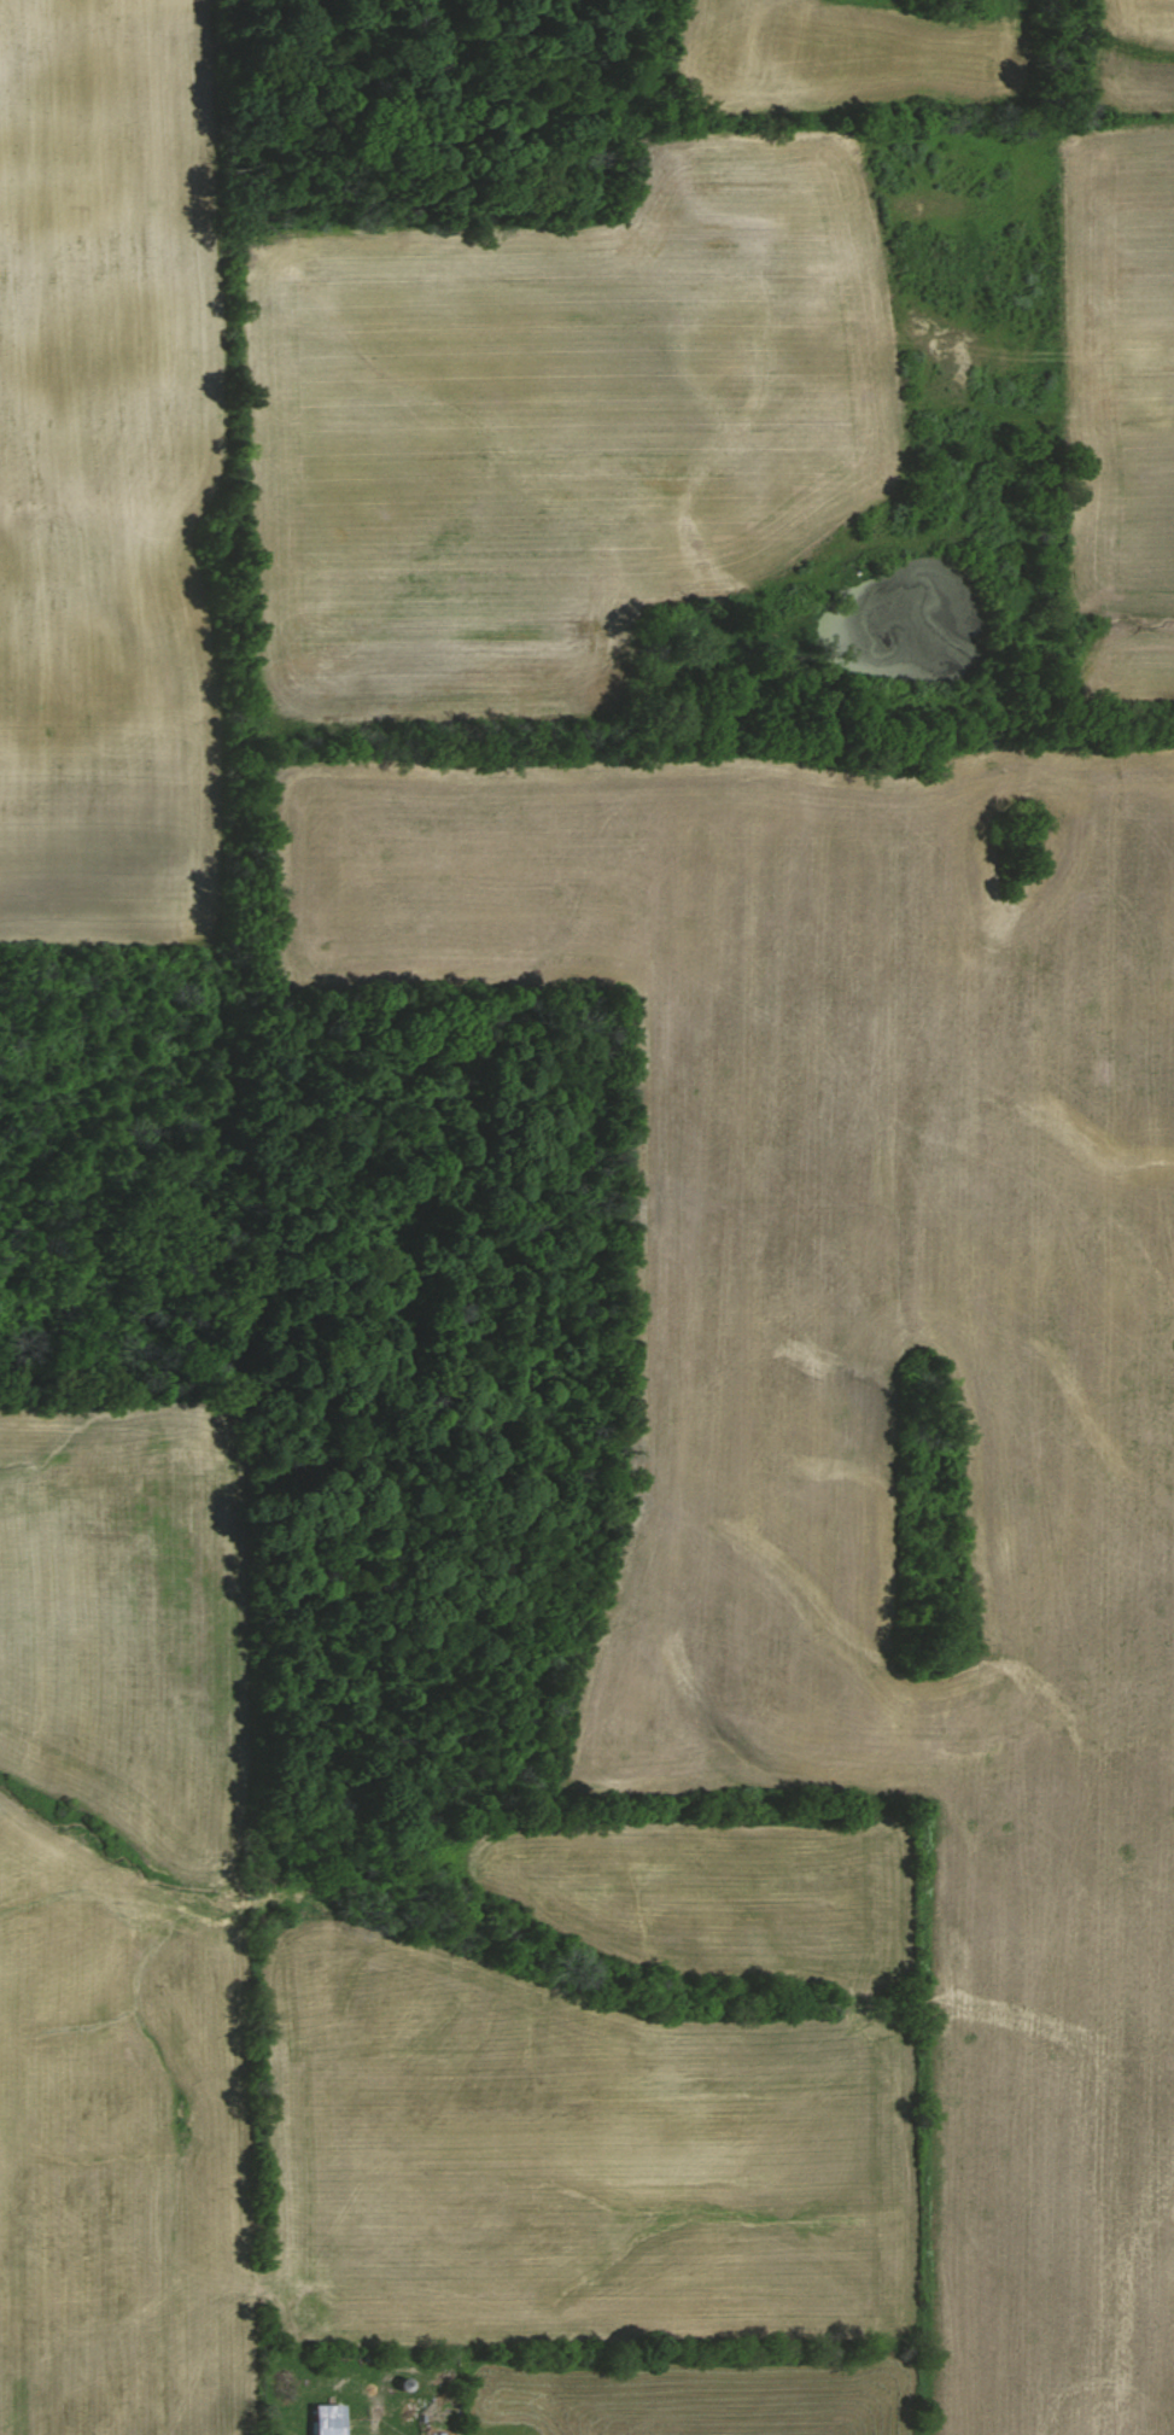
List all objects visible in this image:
building: (325, 2418)

